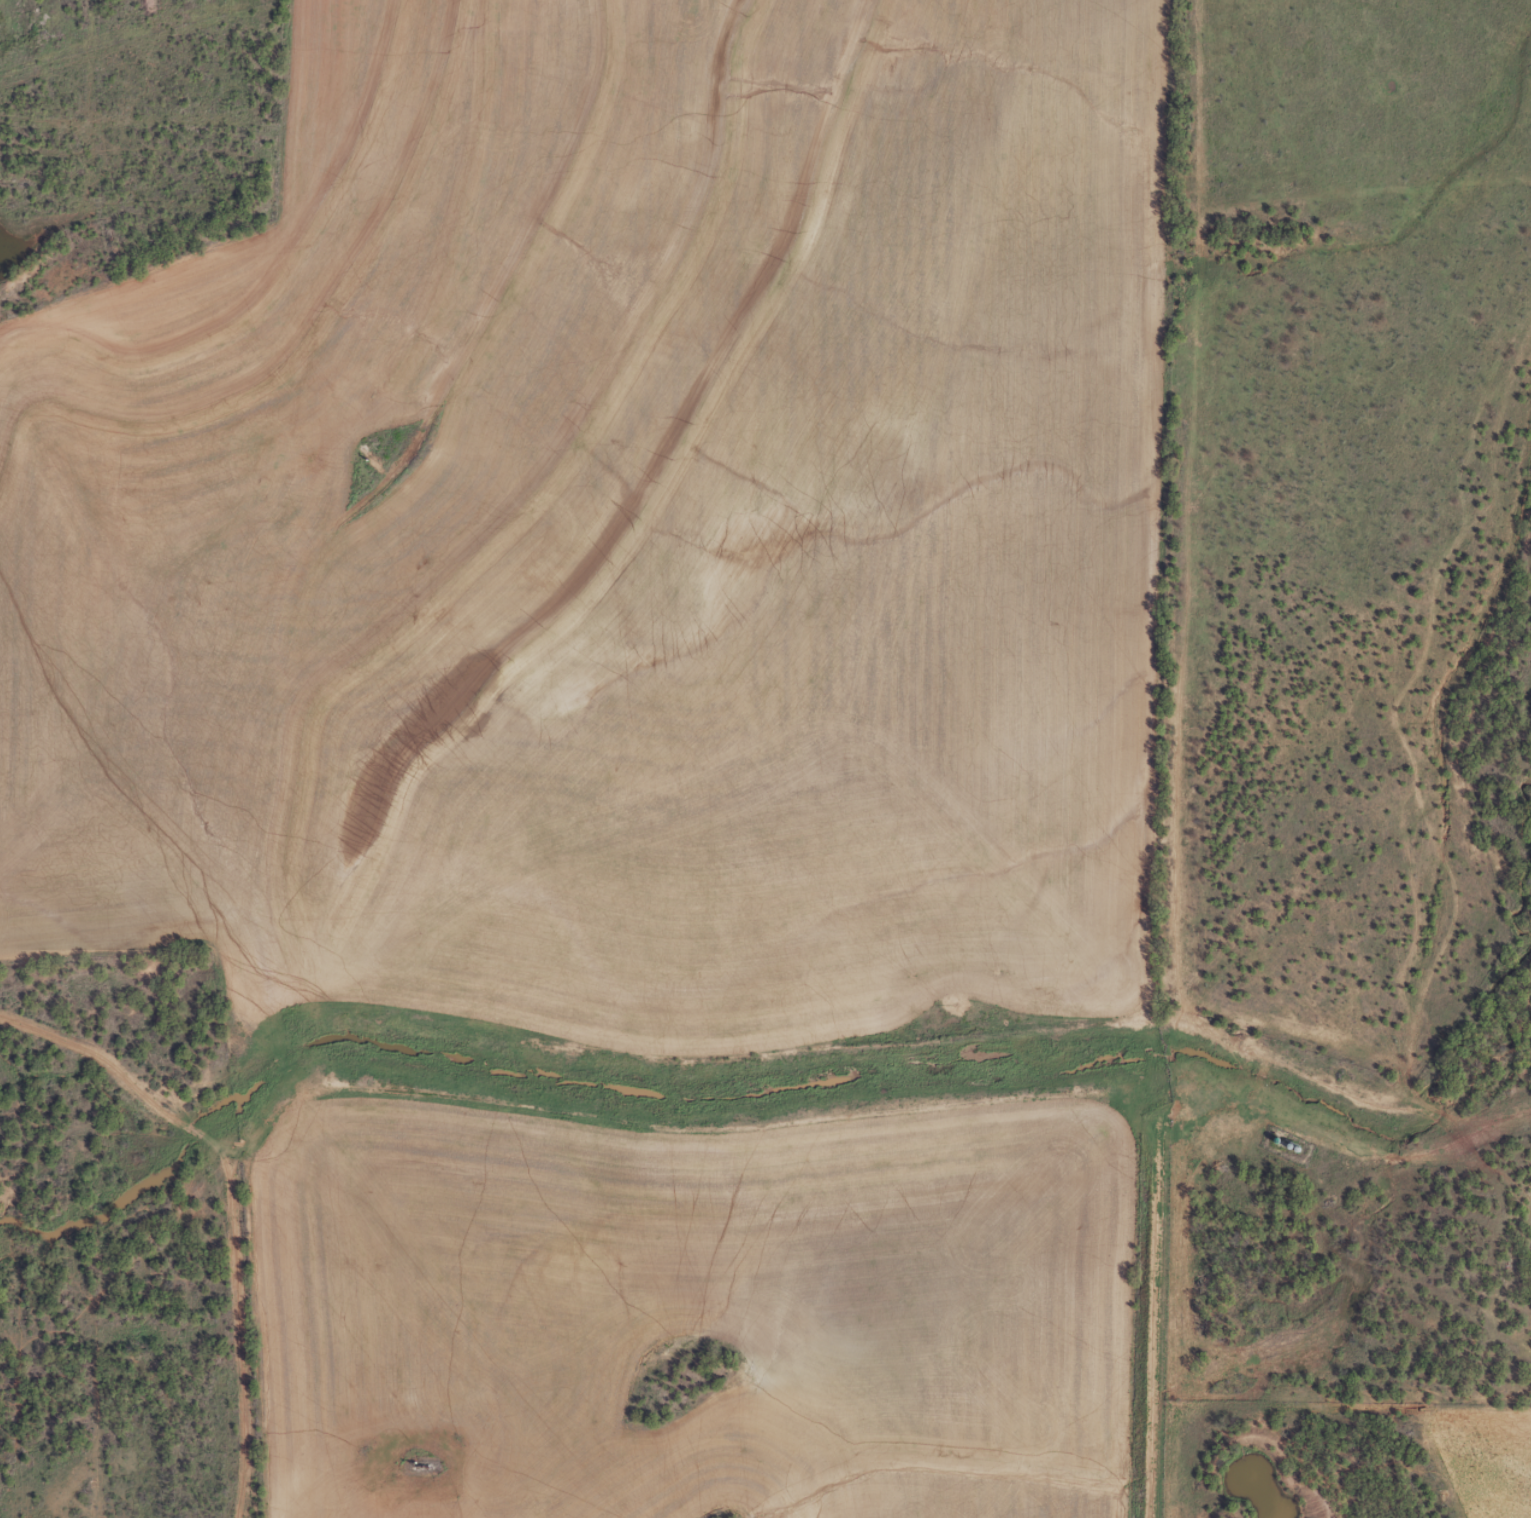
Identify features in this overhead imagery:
road: (1158, 1319)

